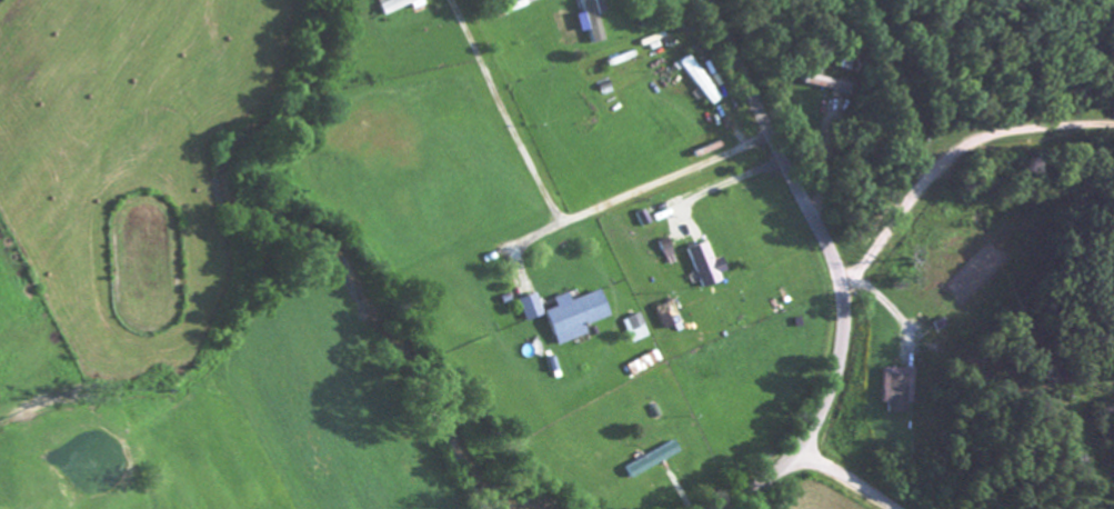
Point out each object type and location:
building: (405, 4)
building: (695, 82)
building: (823, 86)
road: (952, 161)
road: (626, 198)
road: (835, 265)
building: (704, 267)
building: (526, 310)
building: (664, 318)
building: (571, 319)
building: (634, 330)
building: (896, 391)
road: (850, 477)

